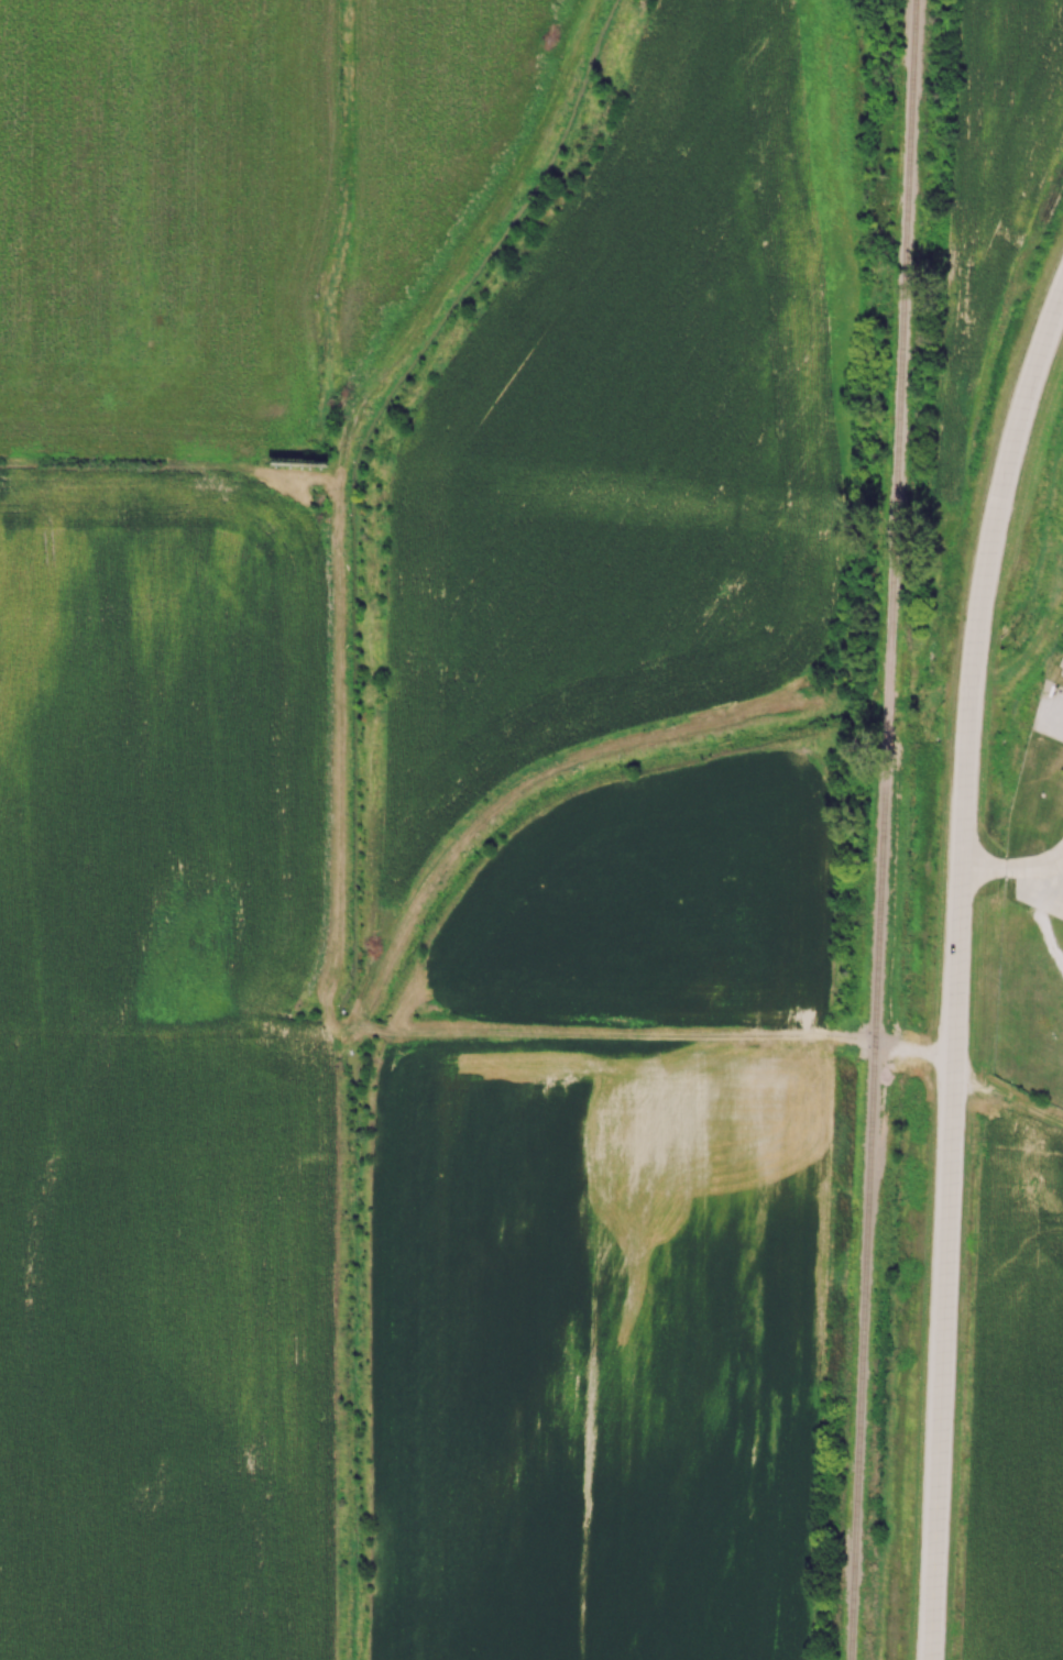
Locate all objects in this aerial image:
railway: (899, 345)
road: (978, 569)
railway: (885, 703)
road: (1010, 869)
road: (1002, 1111)
railway: (865, 1188)
road: (938, 1264)

